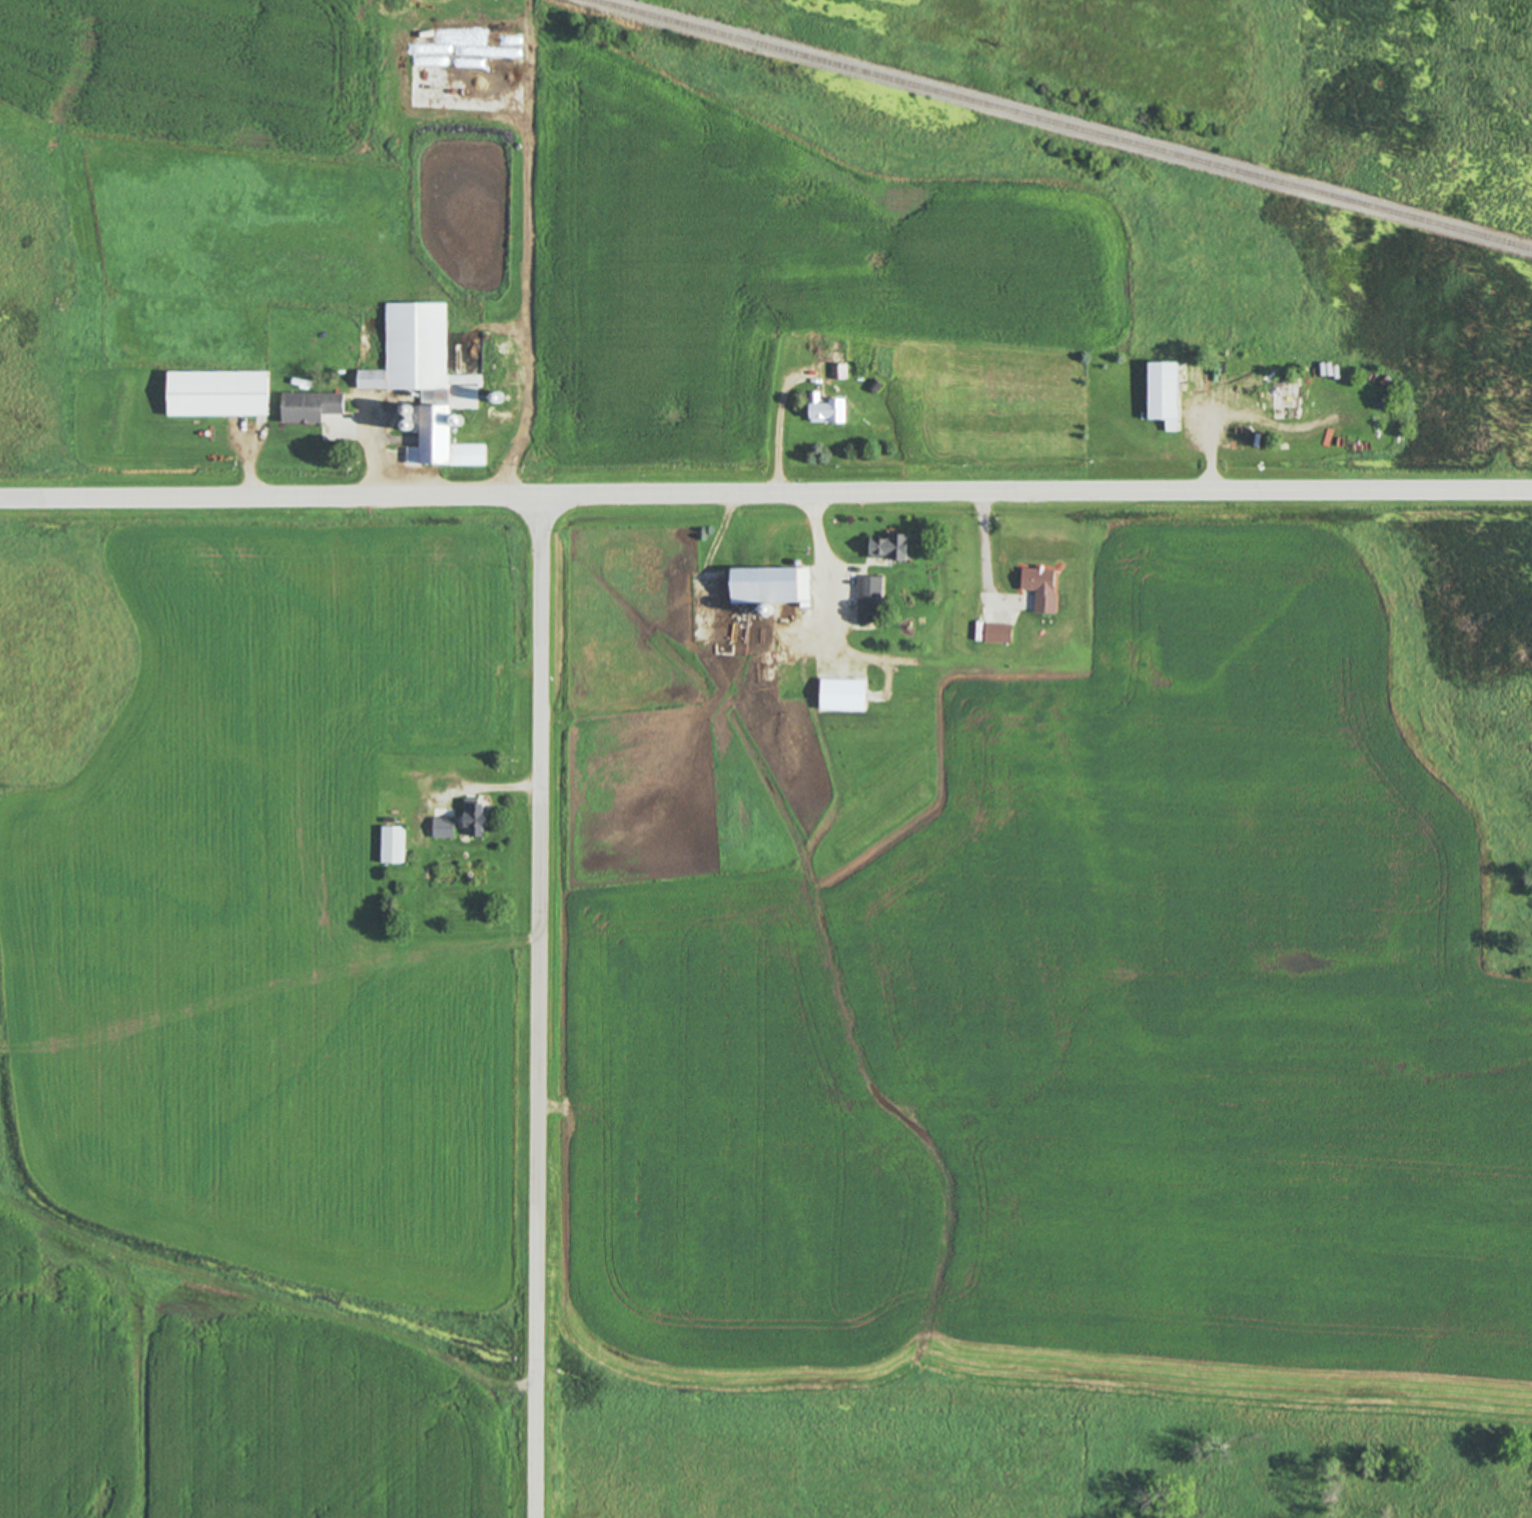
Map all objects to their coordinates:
railway: (1061, 124)
road: (528, 263)
building: (840, 373)
building: (427, 383)
building: (218, 395)
building: (1164, 395)
building: (827, 411)
building: (319, 416)
road: (778, 437)
road: (1212, 458)
road: (370, 462)
road: (249, 468)
road: (766, 493)
road: (984, 536)
building: (890, 549)
road: (823, 556)
building: (771, 587)
building: (1041, 589)
building: (870, 601)
building: (999, 635)
building: (843, 696)
road: (487, 787)
building: (475, 819)
building: (443, 829)
building: (392, 847)
road: (538, 1007)

